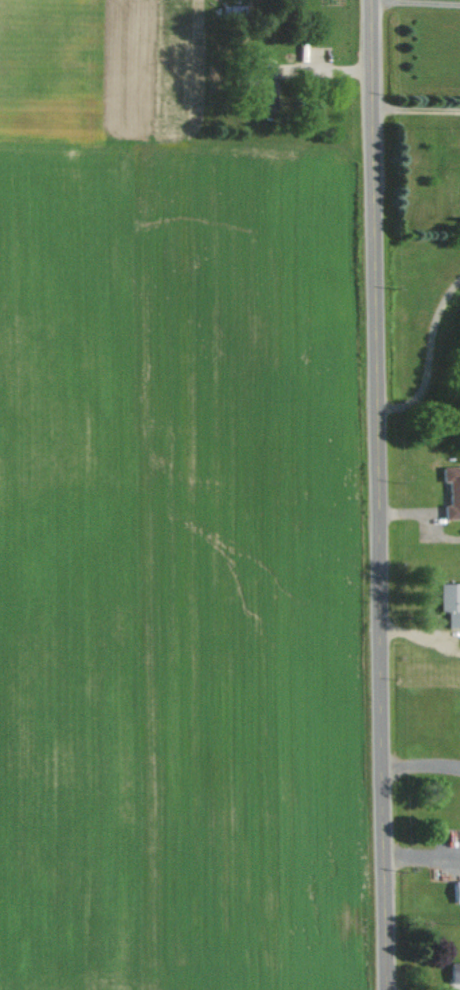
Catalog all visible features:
road: (412, 2)
building: (286, 66)
road: (326, 69)
building: (256, 86)
road: (413, 111)
road: (425, 358)
building: (446, 490)
road: (364, 495)
building: (444, 601)
building: (445, 834)
building: (450, 891)
building: (447, 971)

